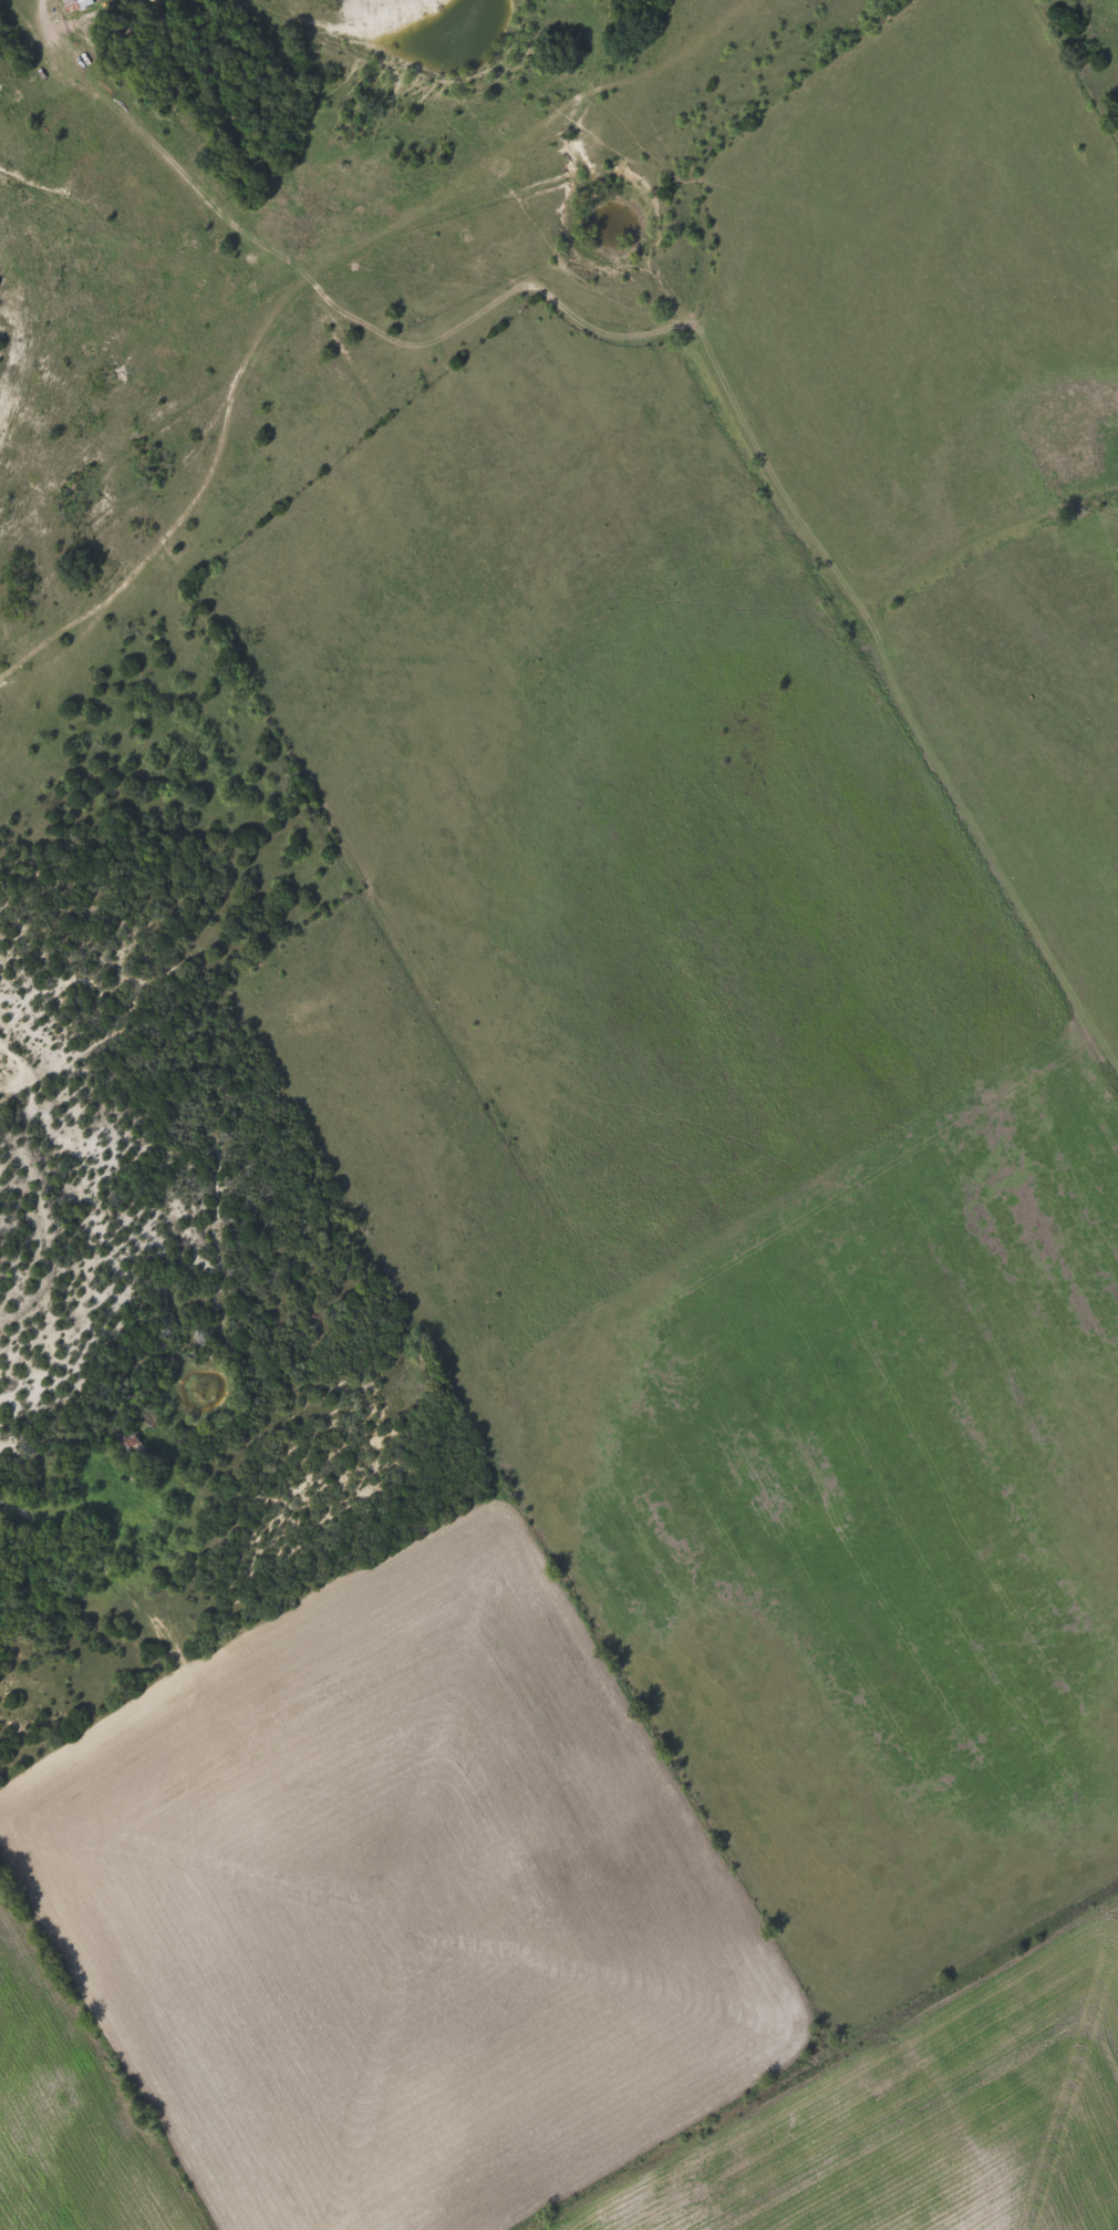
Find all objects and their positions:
building: (83, 1)
building: (128, 1445)

